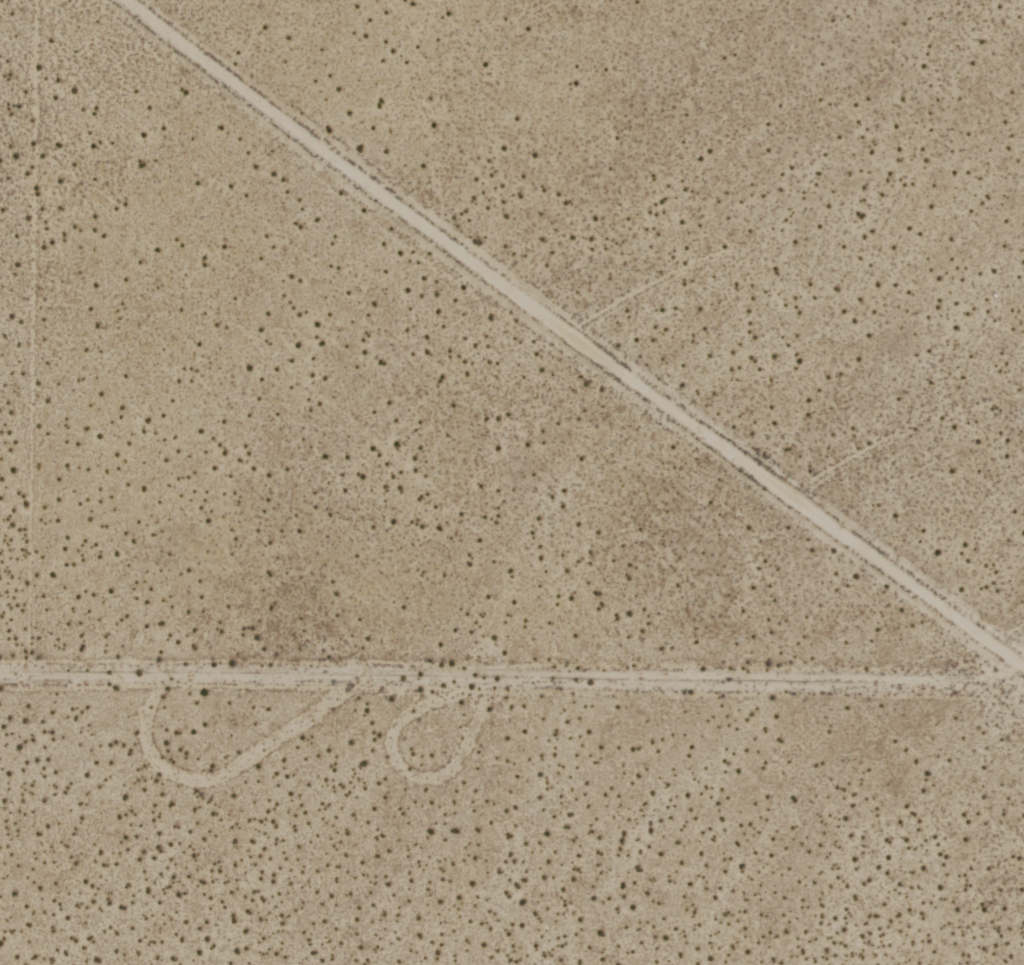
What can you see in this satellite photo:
airport: (512, 482)

